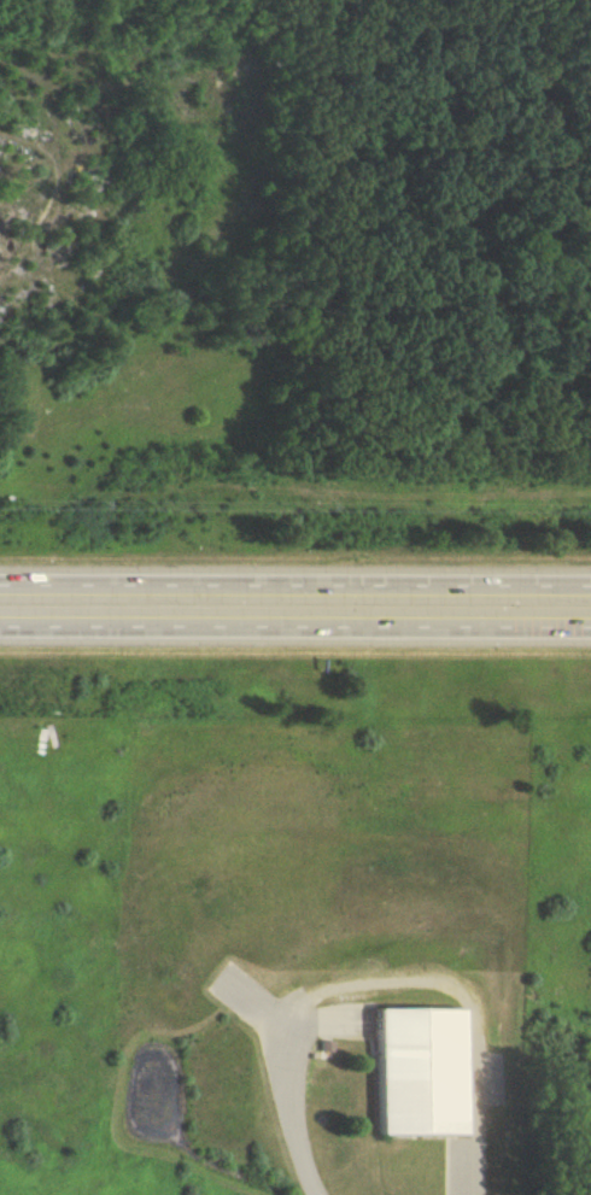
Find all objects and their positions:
road: (295, 588)
road: (295, 627)
road: (382, 983)
building: (417, 1070)

